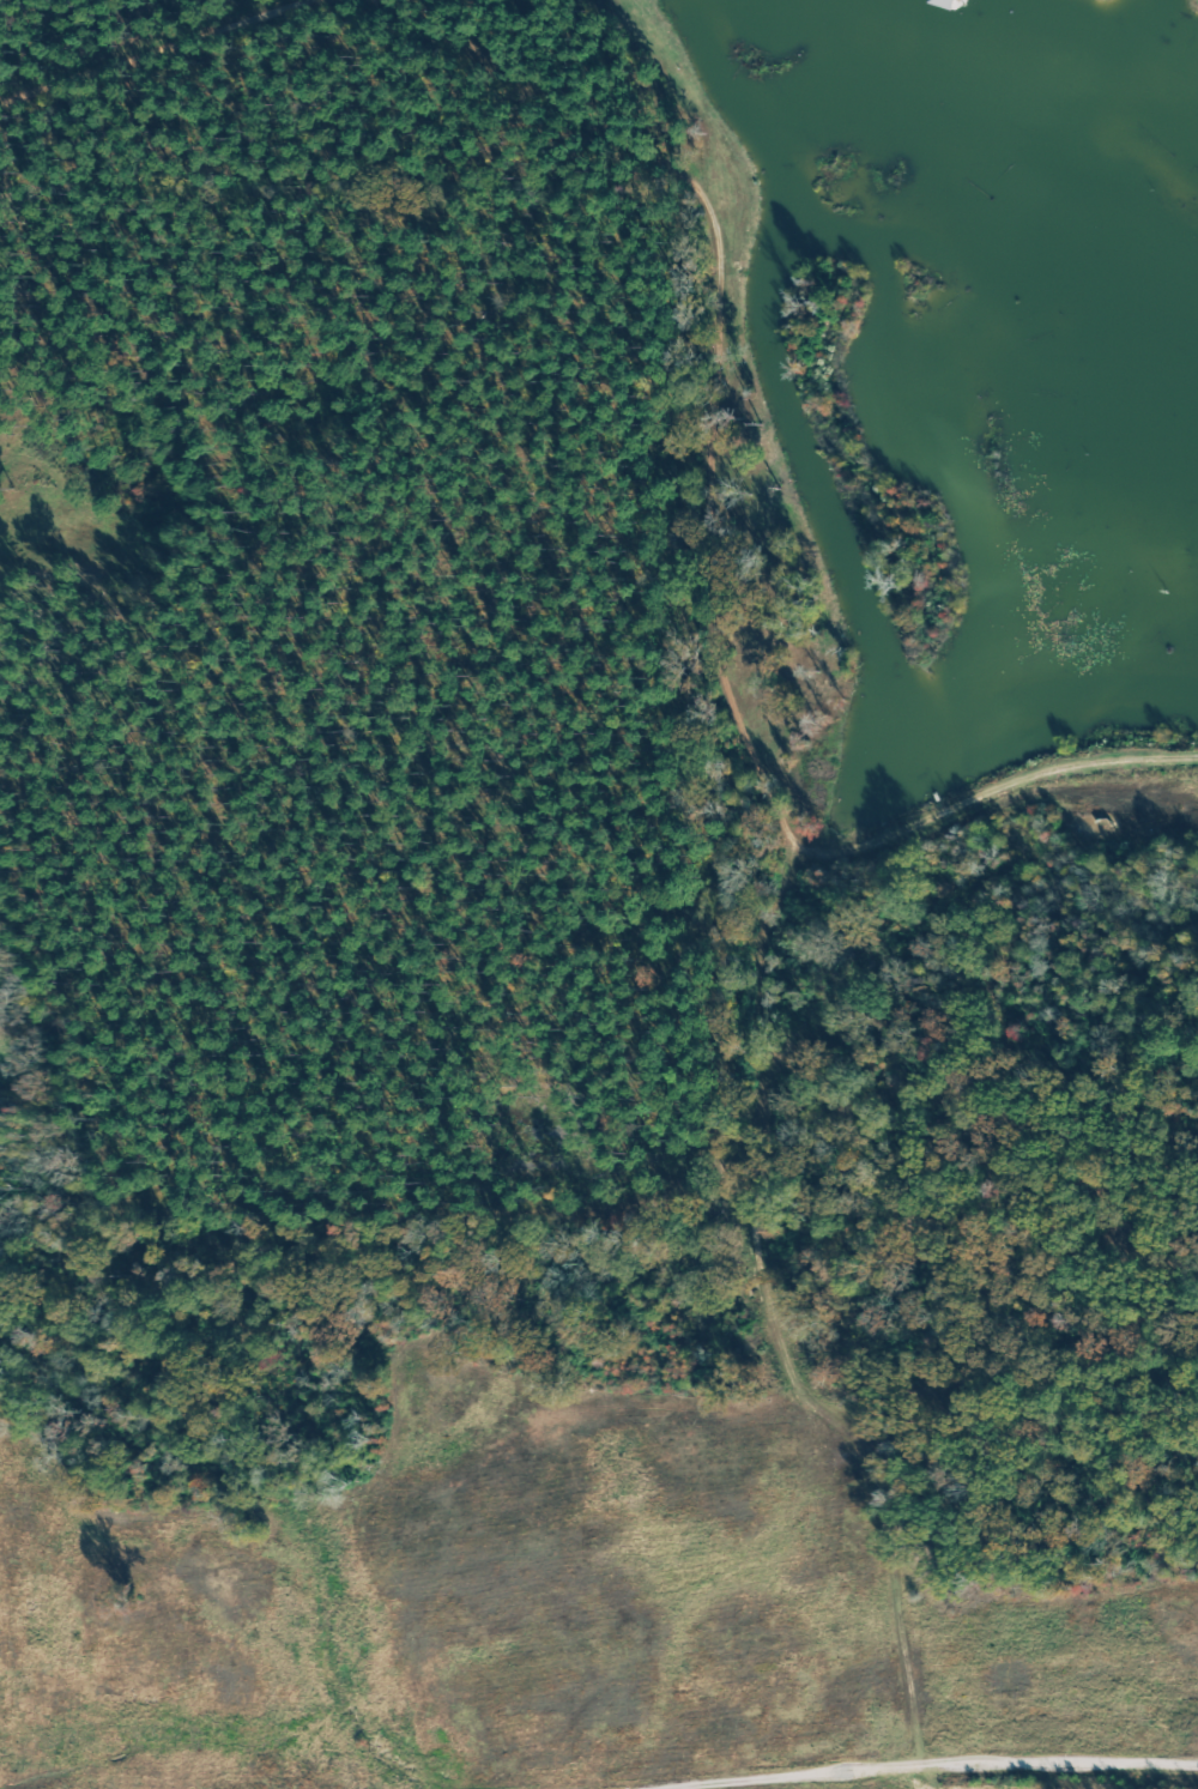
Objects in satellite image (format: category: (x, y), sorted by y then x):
building: (946, 4)
road: (212, 83)

